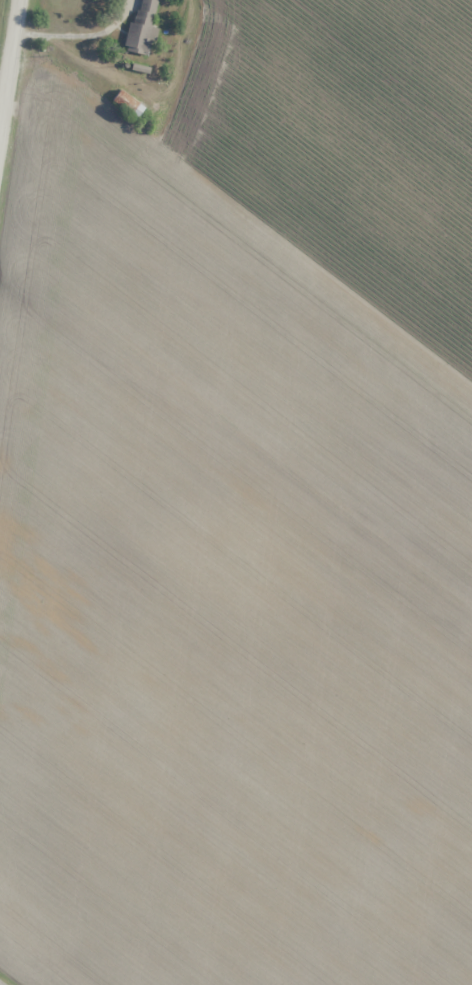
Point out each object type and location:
building: (142, 26)
road: (11, 77)
building: (127, 103)

